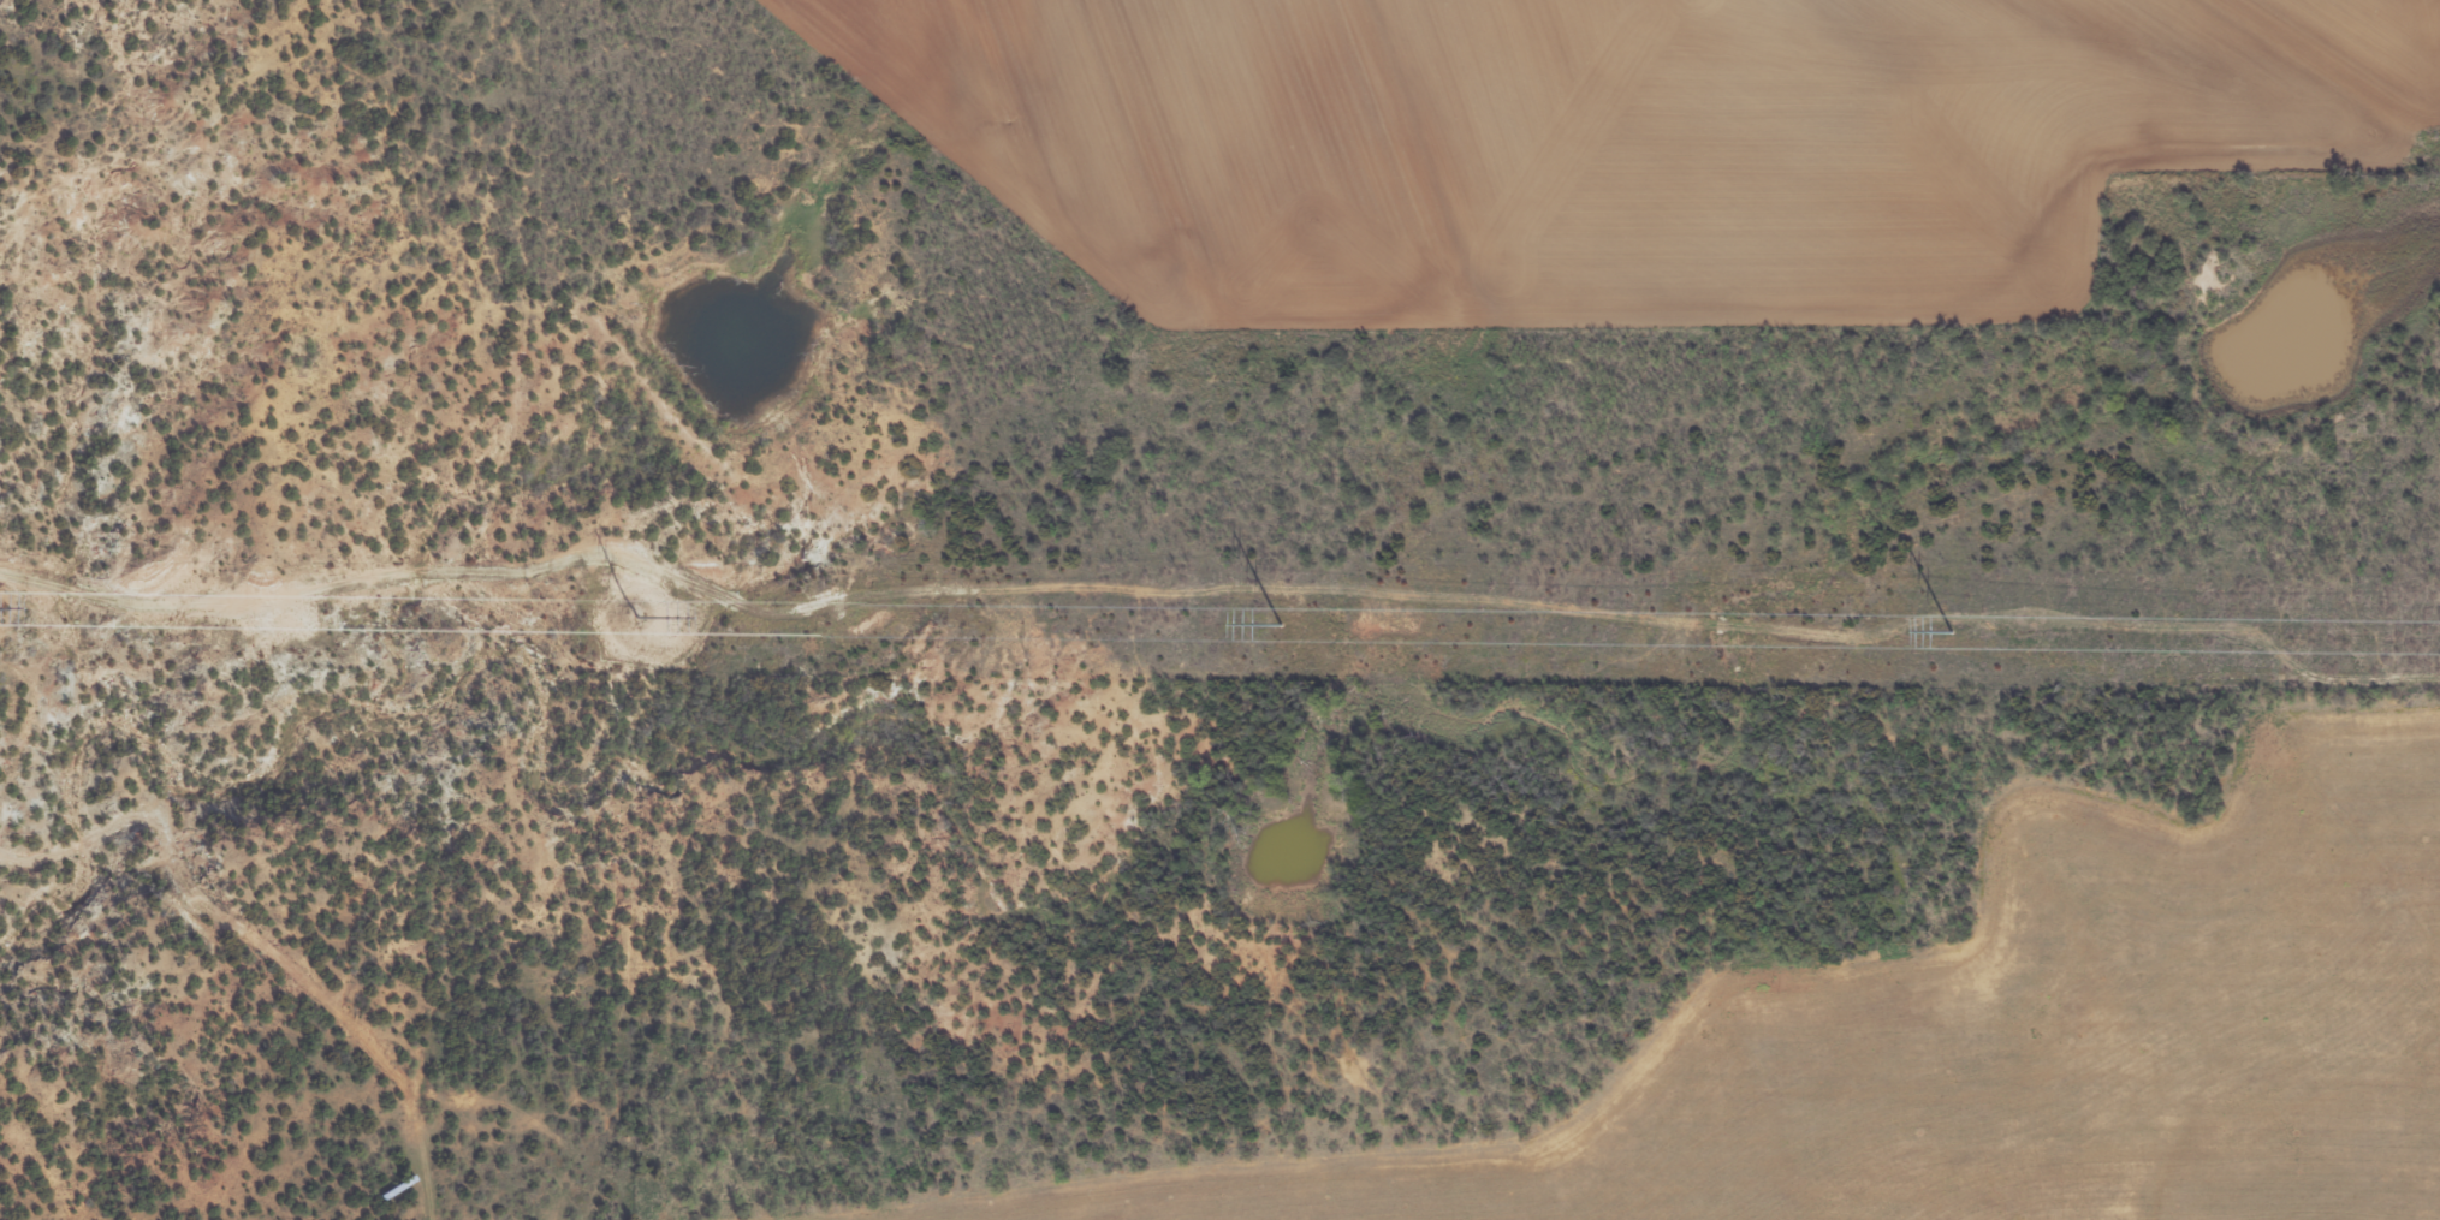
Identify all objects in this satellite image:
power tower: (630, 617)
power tower: (1278, 623)
power tower: (1948, 631)

